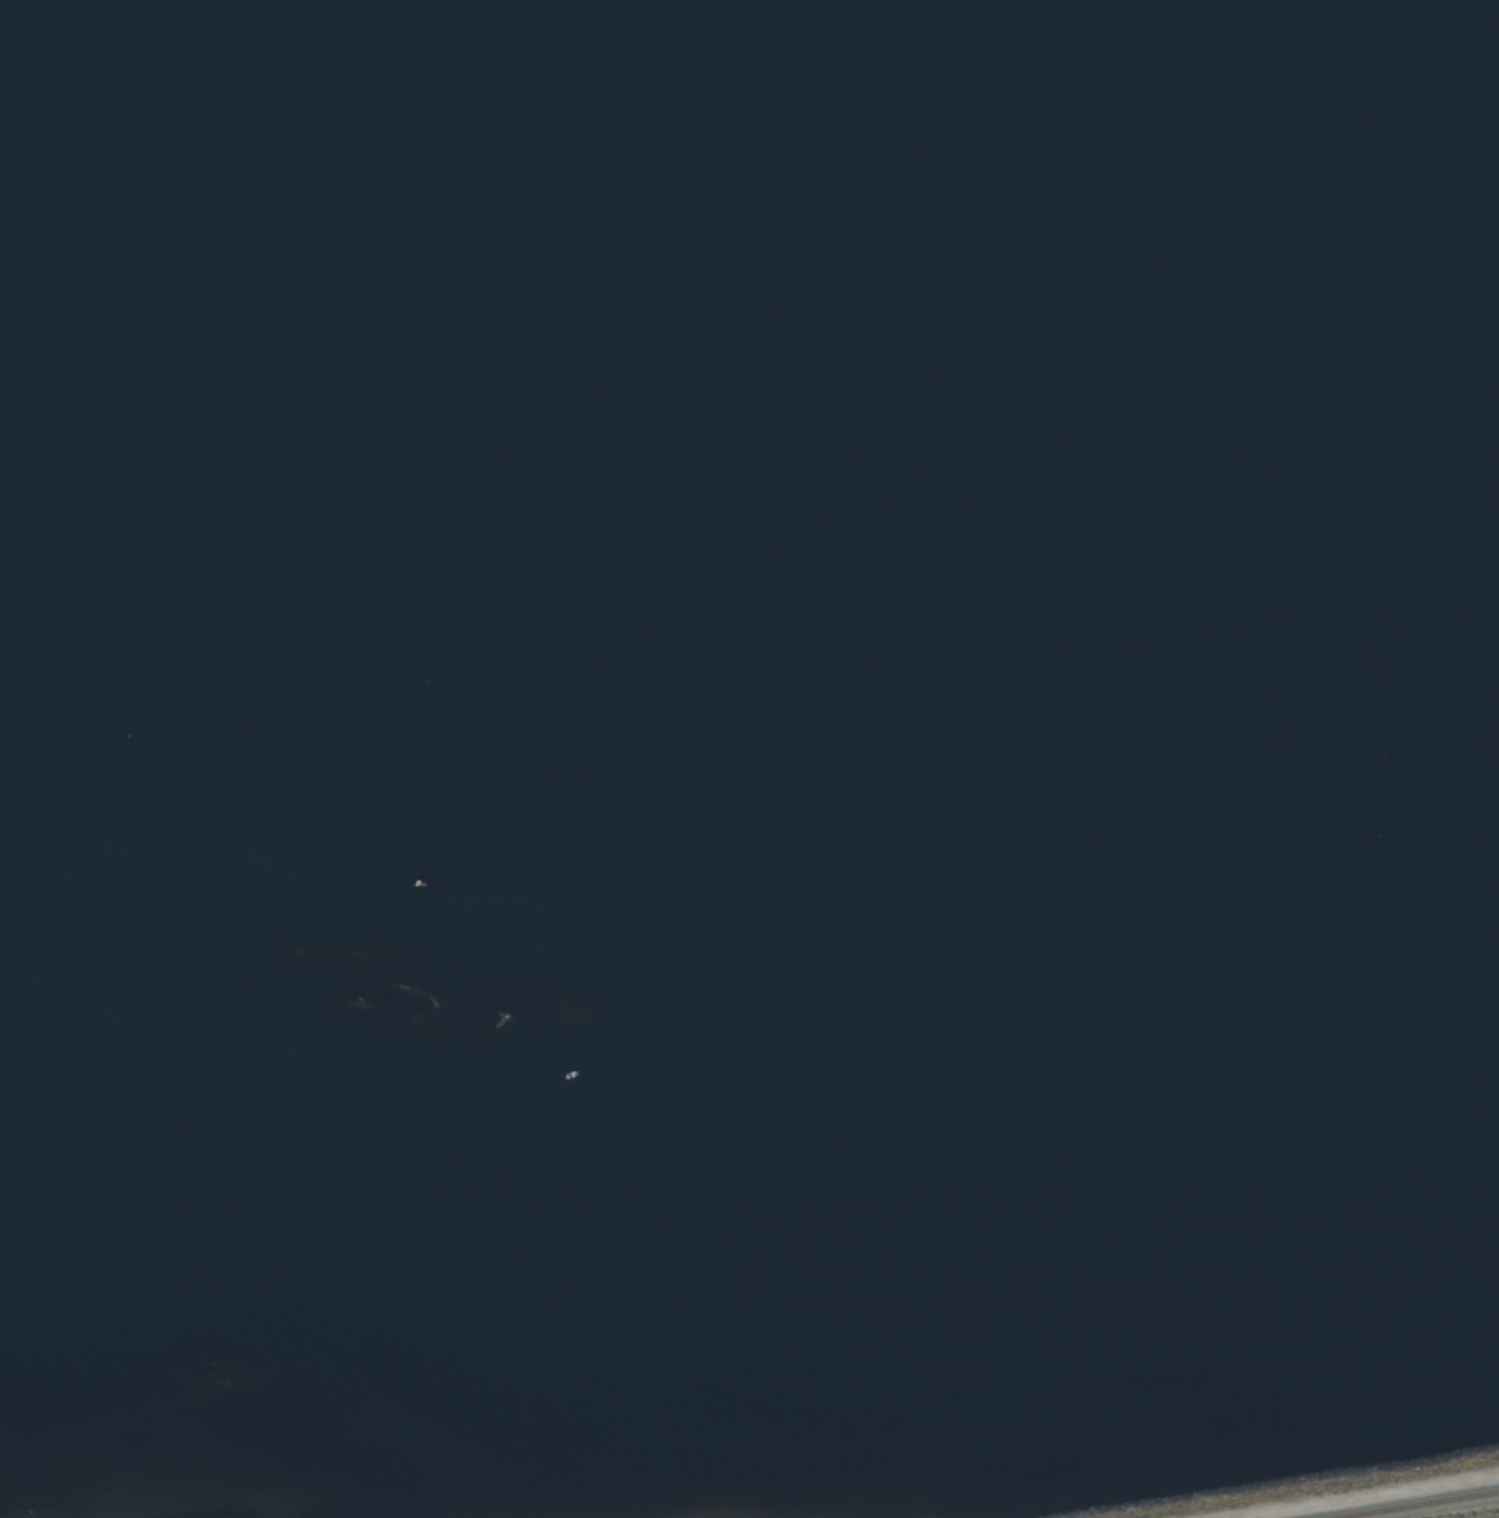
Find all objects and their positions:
railway: (1425, 1506)

